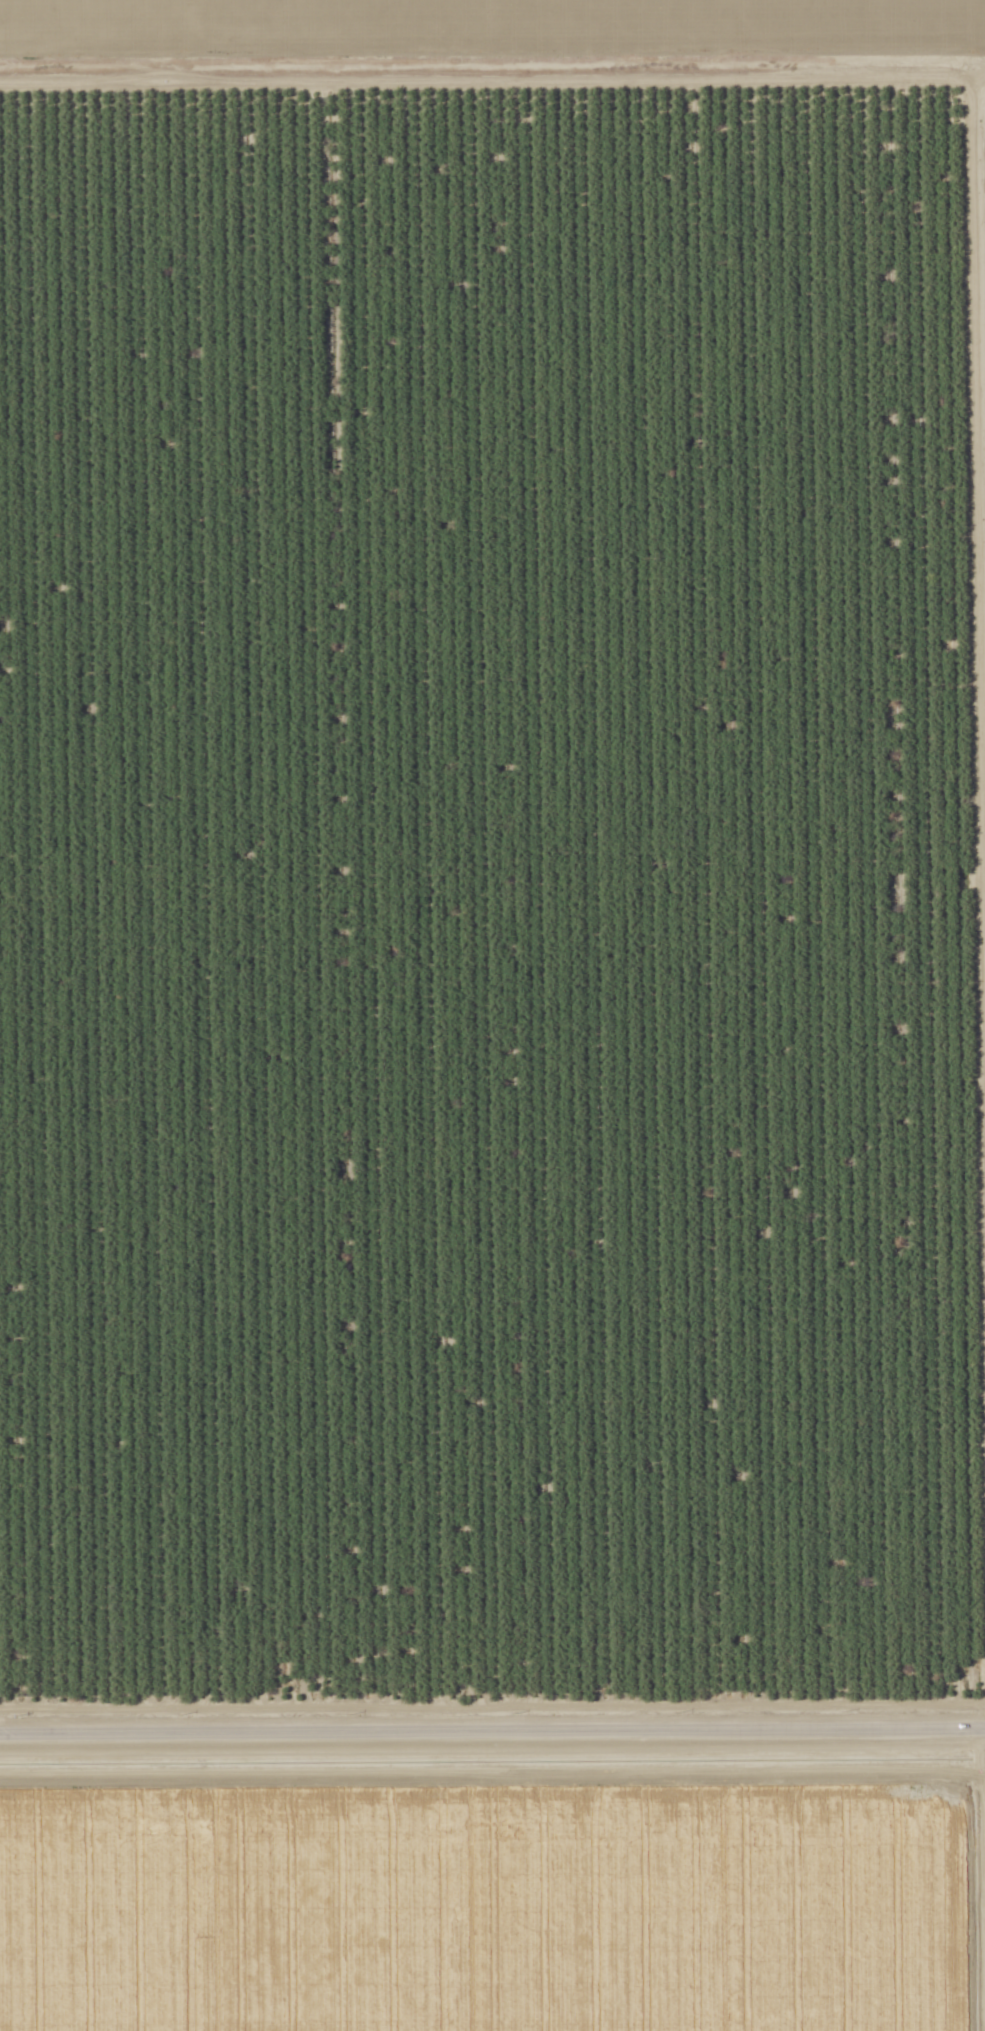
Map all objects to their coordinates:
crop: (487, 27)
crop: (984, 72)
road: (492, 1728)
crop: (492, 1890)

